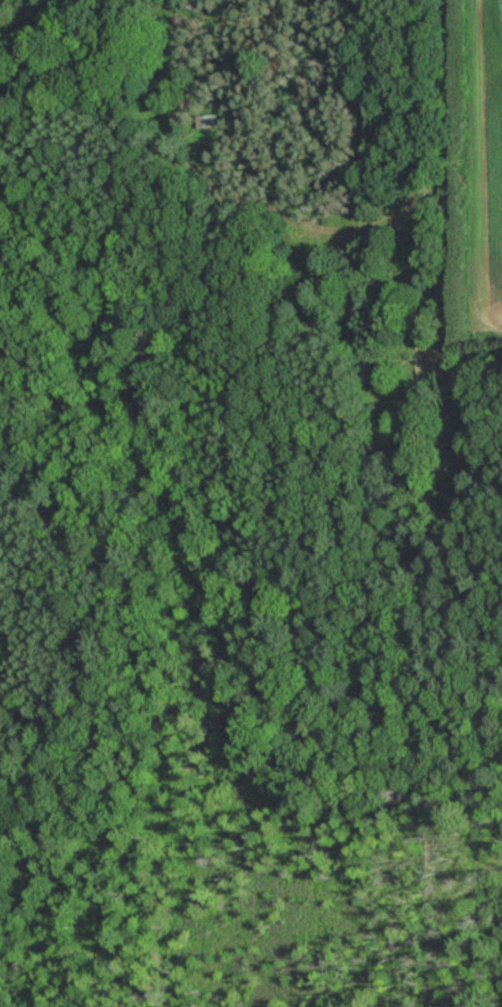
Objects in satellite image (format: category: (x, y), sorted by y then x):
road: (434, 17)
road: (431, 820)

